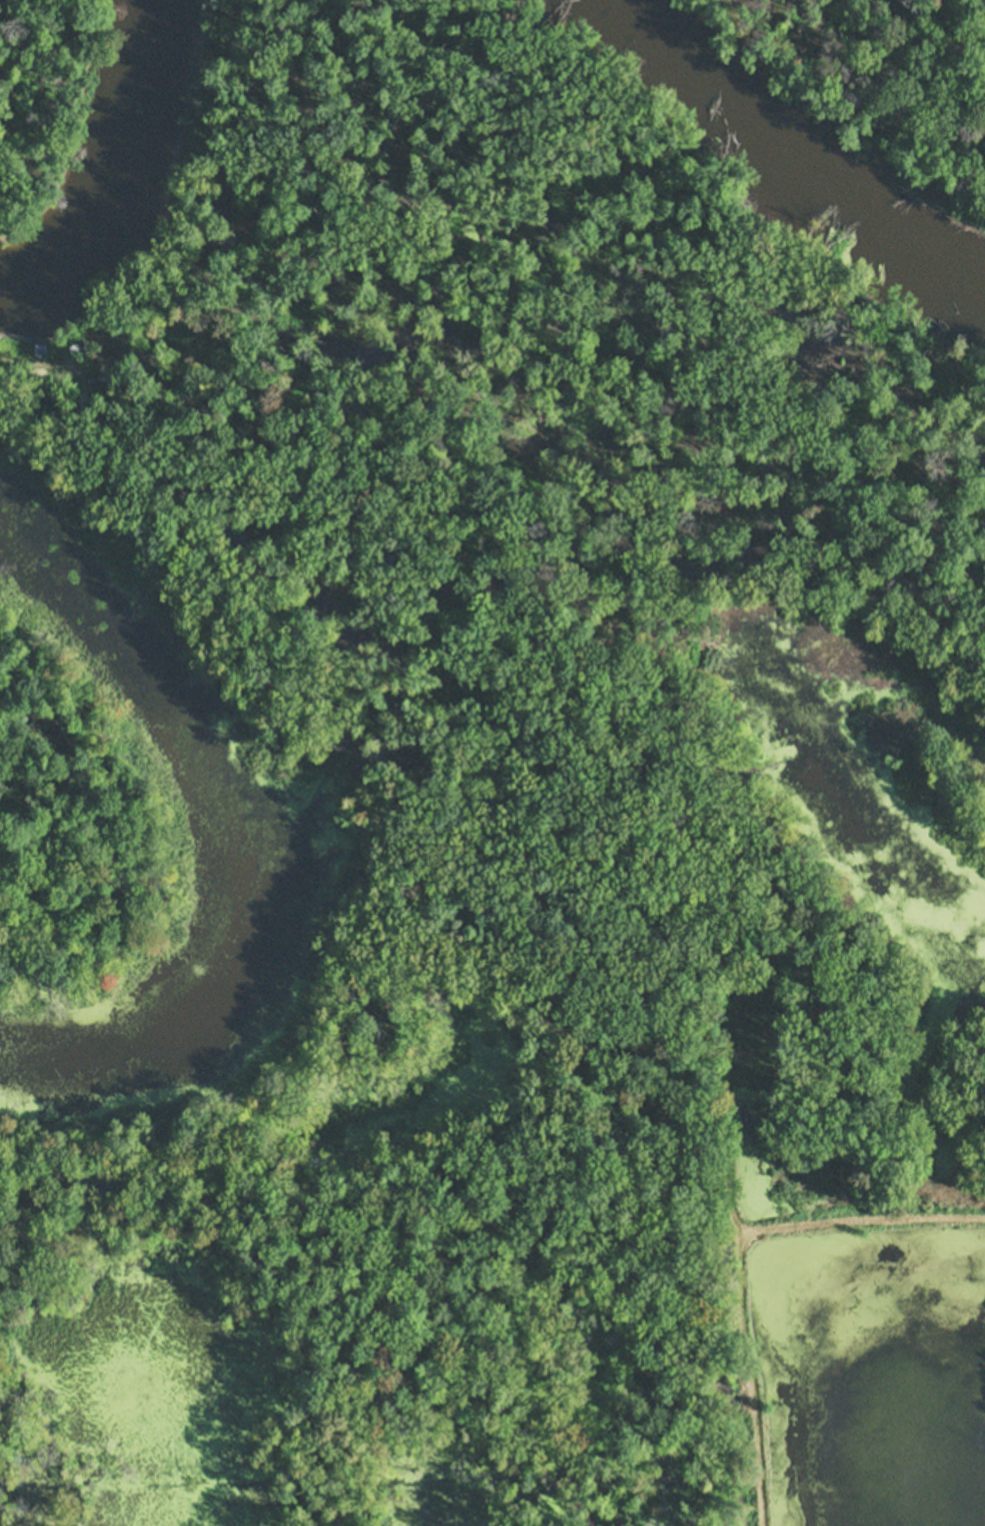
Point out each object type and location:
river: (790, 149)
river: (120, 175)
building: (73, 346)
building: (40, 348)
building: (84, 399)

